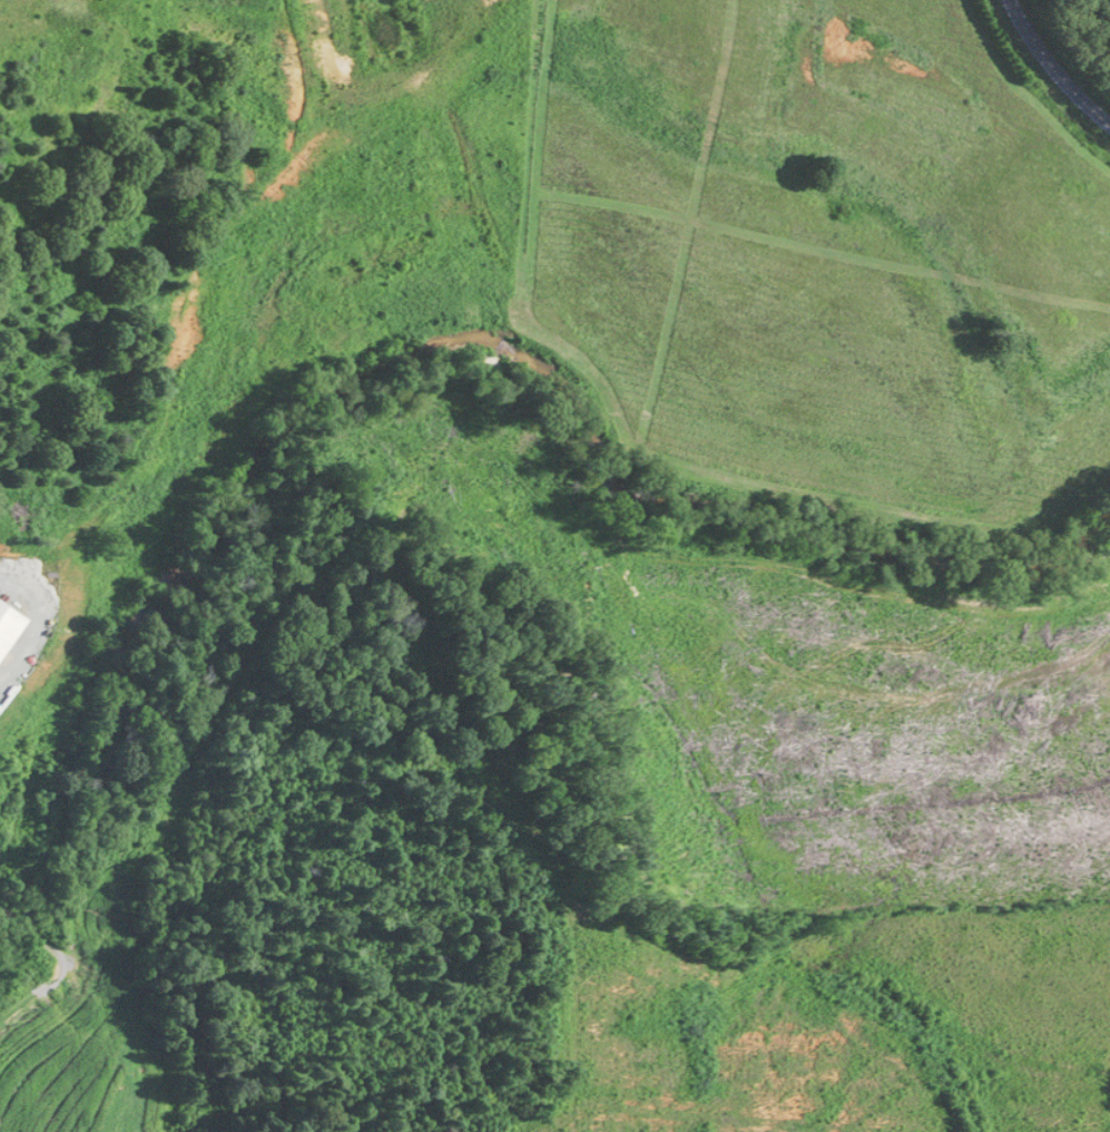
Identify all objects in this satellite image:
road: (1052, 67)
road: (42, 626)

